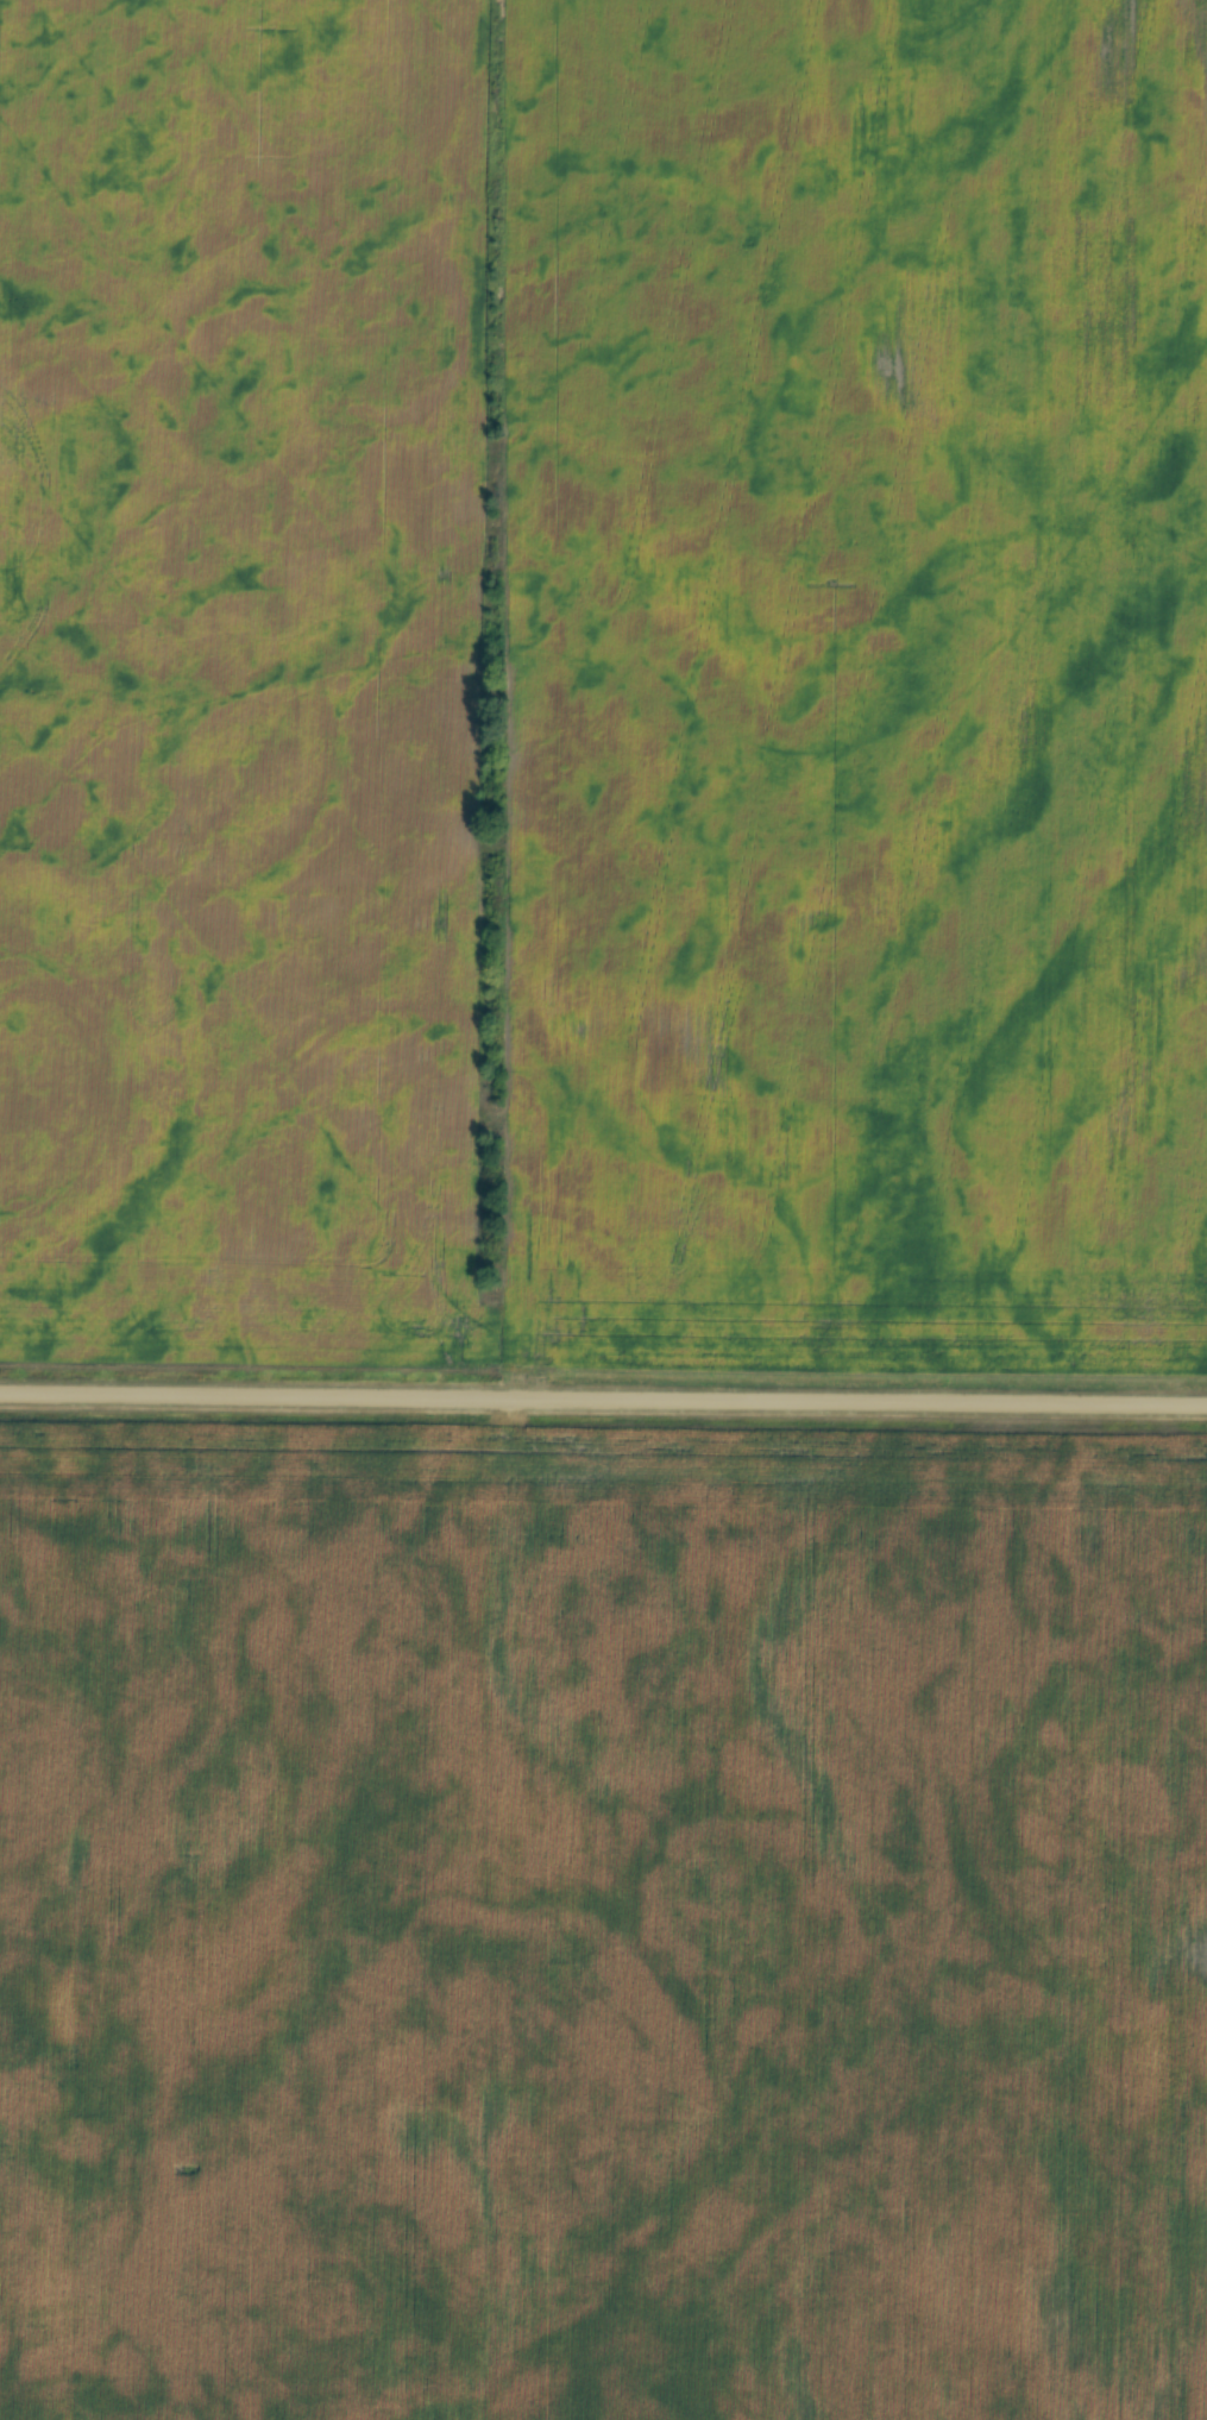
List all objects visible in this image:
road: (603, 1397)

